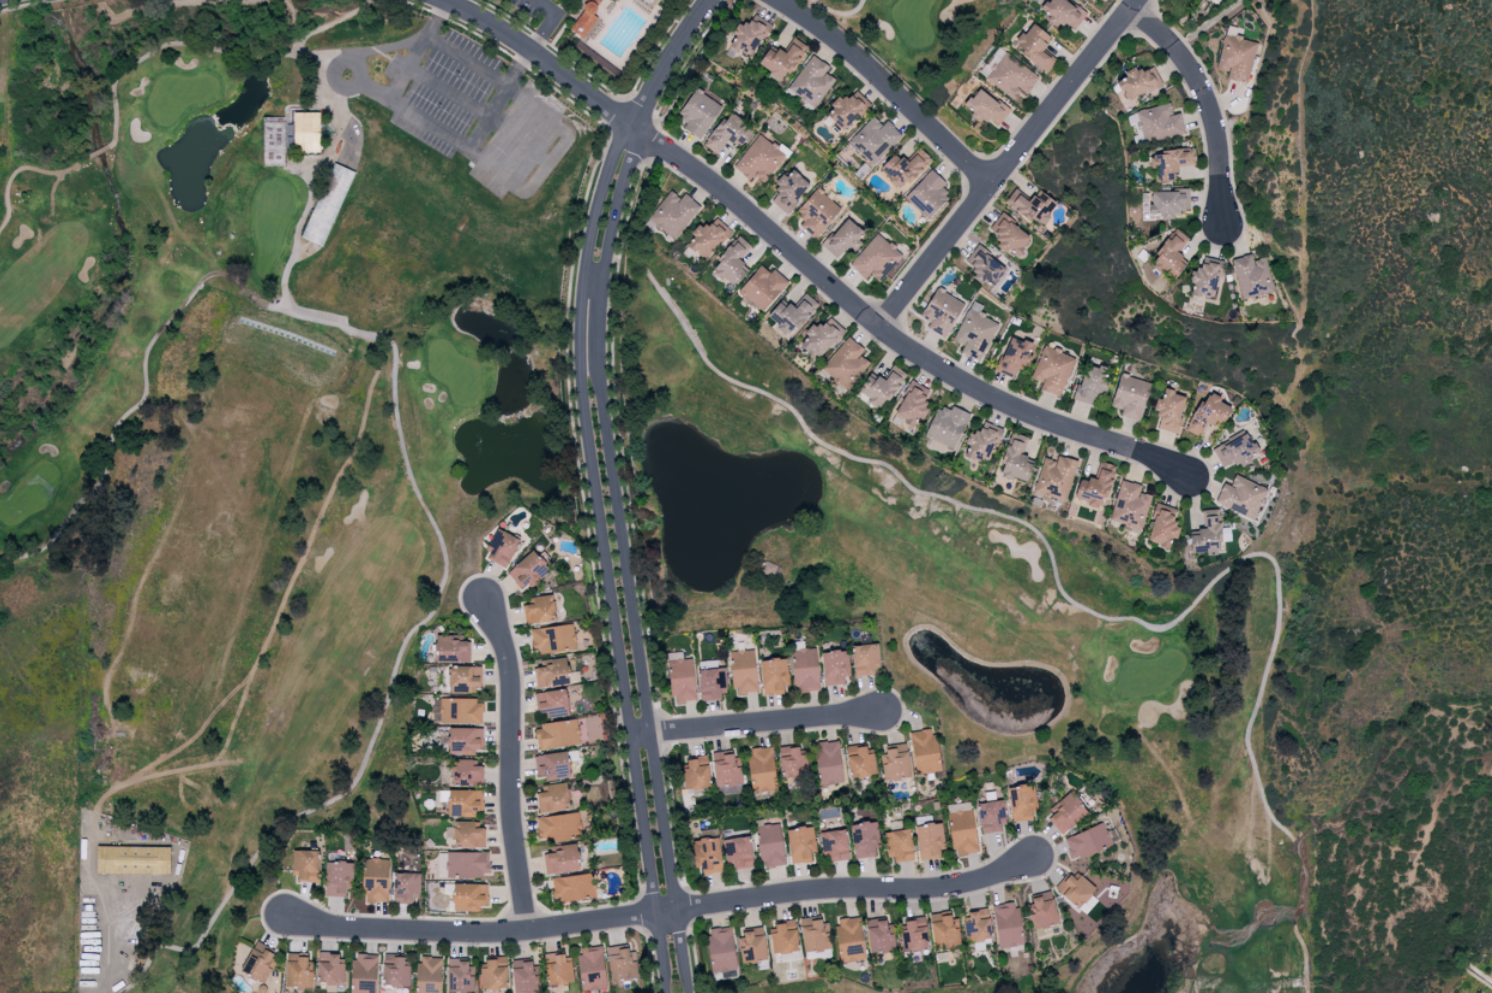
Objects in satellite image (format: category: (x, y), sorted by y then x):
building: (1091, 0)
building: (1207, 0)
building: (1062, 13)
building: (584, 18)
road: (551, 22)
building: (749, 35)
park: (991, 54)
building: (1235, 55)
road: (539, 57)
road: (665, 59)
building: (781, 59)
road: (465, 61)
road: (332, 75)
building: (1010, 76)
building: (811, 81)
building: (1137, 83)
road: (888, 87)
road: (373, 90)
road: (449, 91)
road: (1209, 103)
road: (397, 106)
building: (985, 108)
building: (847, 109)
building: (698, 113)
road: (554, 114)
road: (340, 123)
building: (1159, 123)
building: (306, 132)
building: (727, 133)
building: (873, 139)
building: (759, 159)
road: (1008, 163)
building: (1171, 163)
building: (903, 168)
road: (541, 172)
building: (789, 190)
building: (927, 192)
building: (1167, 203)
building: (327, 204)
building: (1031, 206)
building: (816, 212)
building: (673, 213)
building: (1009, 235)
building: (707, 237)
building: (841, 238)
building: (1170, 256)
building: (875, 258)
building: (731, 262)
building: (984, 267)
building: (1252, 276)
building: (1204, 280)
building: (762, 287)
building: (940, 312)
building: (790, 315)
building: (974, 332)
road: (891, 335)
building: (821, 337)
building: (1013, 356)
building: (845, 364)
building: (1051, 370)
building: (1090, 383)
building: (879, 388)
building: (1129, 396)
building: (911, 405)
building: (1169, 410)
building: (1207, 414)
building: (946, 425)
building: (981, 442)
building: (1234, 451)
building: (1015, 461)
building: (1055, 477)
park: (500, 480)
building: (1095, 486)
building: (1241, 496)
building: (1129, 506)
building: (1162, 526)
building: (1206, 535)
building: (501, 547)
road: (602, 555)
road: (622, 558)
building: (527, 571)
building: (539, 610)
building: (552, 639)
building: (451, 649)
building: (864, 659)
building: (834, 668)
building: (804, 670)
building: (743, 671)
building: (552, 673)
building: (773, 675)
building: (464, 679)
building: (681, 680)
building: (711, 684)
building: (552, 703)
building: (460, 711)
road: (756, 723)
building: (556, 734)
building: (464, 740)
building: (924, 751)
building: (859, 761)
building: (792, 762)
building: (827, 763)
building: (895, 763)
road: (511, 764)
building: (552, 765)
building: (725, 769)
building: (761, 769)
building: (695, 772)
building: (466, 773)
building: (553, 798)
building: (464, 802)
building: (1021, 802)
building: (1065, 813)
building: (990, 816)
building: (558, 827)
building: (962, 832)
building: (467, 835)
building: (863, 839)
building: (929, 840)
building: (1089, 841)
building: (800, 844)
building: (834, 844)
building: (769, 845)
building: (899, 846)
building: (738, 852)
building: (707, 855)
building: (133, 859)
building: (562, 860)
building: (467, 864)
building: (304, 865)
building: (337, 878)
building: (375, 880)
building: (405, 887)
building: (573, 887)
building: (1074, 889)
building: (469, 896)
road: (660, 908)
building: (1041, 912)
building: (1007, 924)
building: (977, 926)
building: (943, 930)
building: (813, 933)
building: (879, 935)
building: (914, 935)
building: (783, 938)
building: (849, 939)
building: (751, 946)
road: (119, 949)
building: (720, 949)
building: (258, 963)
building: (620, 963)
building: (330, 969)
building: (591, 969)
building: (298, 970)
building: (394, 971)
building: (559, 971)
building: (363, 973)
building: (428, 974)
building: (493, 974)
building: (459, 976)
building: (524, 977)
park: (805, 987)
park: (647, 991)

